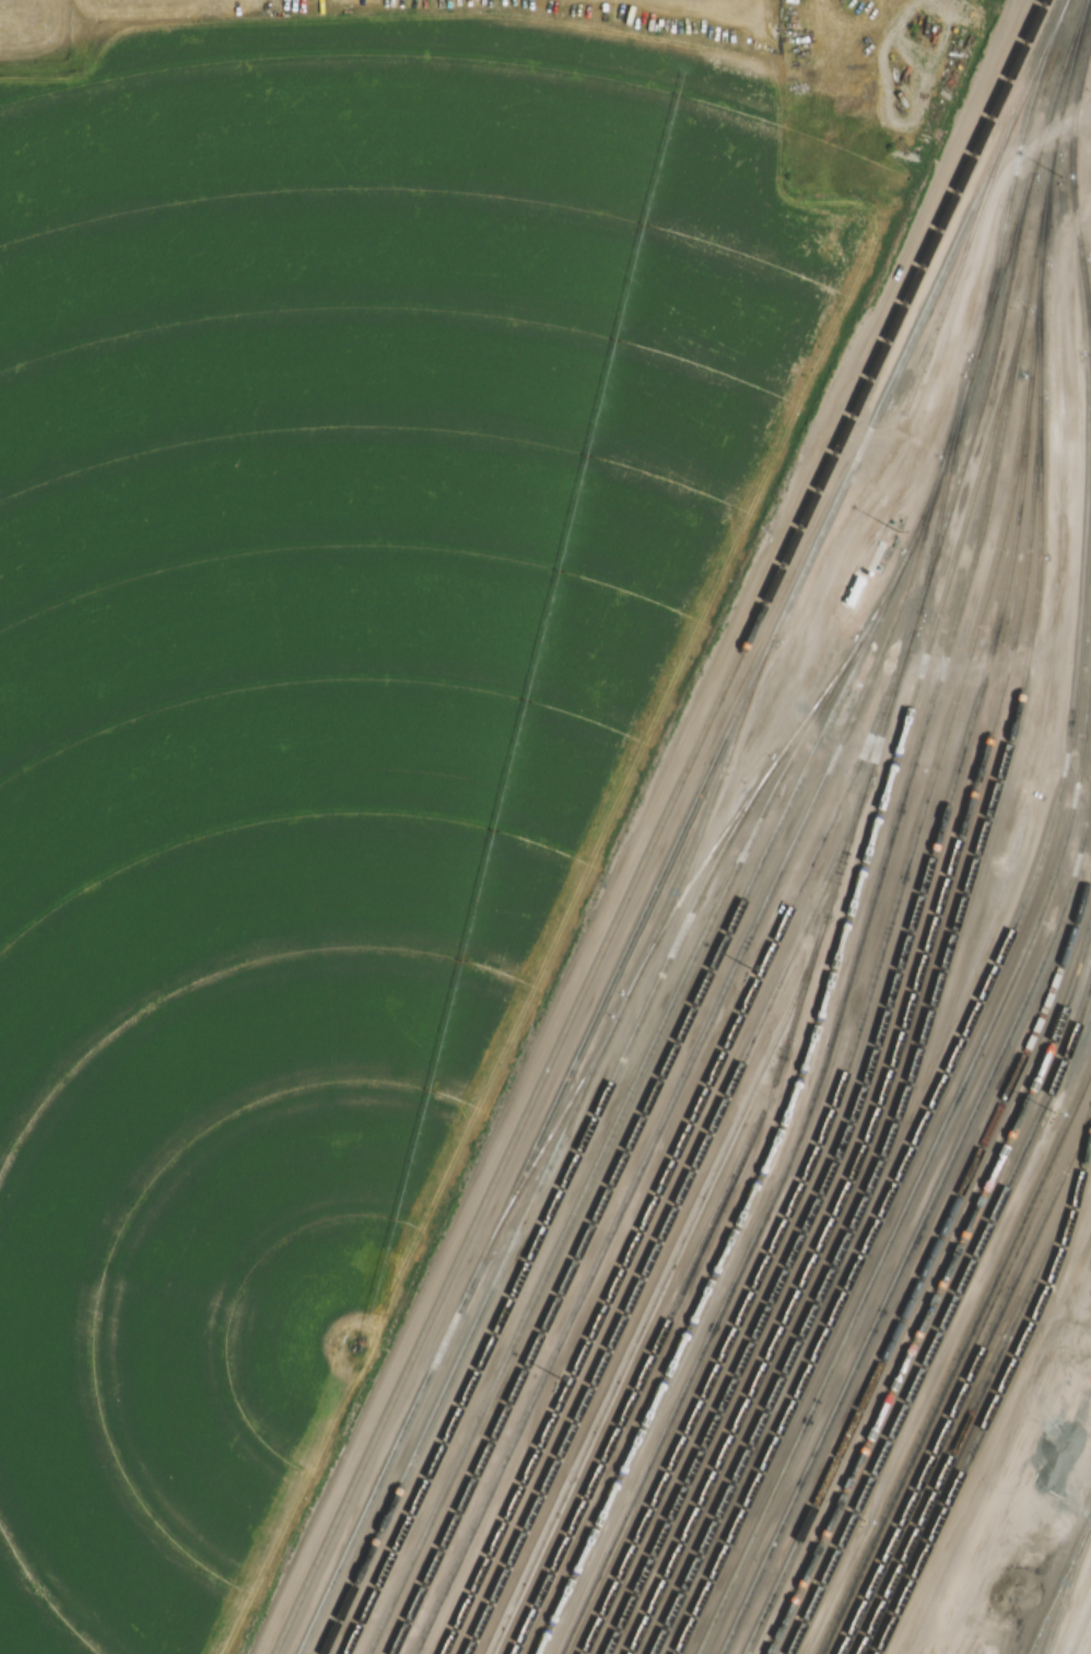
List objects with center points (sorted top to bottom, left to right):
railway: (1069, 180)
road: (927, 210)
railway: (959, 261)
railway: (985, 372)
railway: (1089, 391)
road: (868, 438)
railway: (911, 540)
building: (877, 557)
railway: (703, 815)
railway: (680, 826)
railway: (659, 827)
railway: (843, 847)
railway: (973, 852)
railway: (859, 931)
building: (1013, 937)
railway: (891, 979)
railway: (825, 982)
railway: (985, 983)
railway: (854, 1032)
road: (539, 1037)
railway: (894, 1045)
railway: (684, 1070)
railway: (640, 1111)
railway: (1089, 1126)
railway: (551, 1131)
railway: (938, 1133)
railway: (595, 1155)
railway: (669, 1157)
railway: (666, 1215)
railway: (545, 1216)
railway: (918, 1223)
railway: (926, 1253)
railway: (937, 1285)
railway: (650, 1298)
railway: (945, 1314)
road: (1080, 1323)
railway: (466, 1339)
railway: (954, 1356)
railway: (966, 1375)
railway: (975, 1396)
railway: (992, 1399)
railway: (1088, 1522)
railway: (1063, 1591)
railway: (1055, 1592)
road: (1078, 1627)

